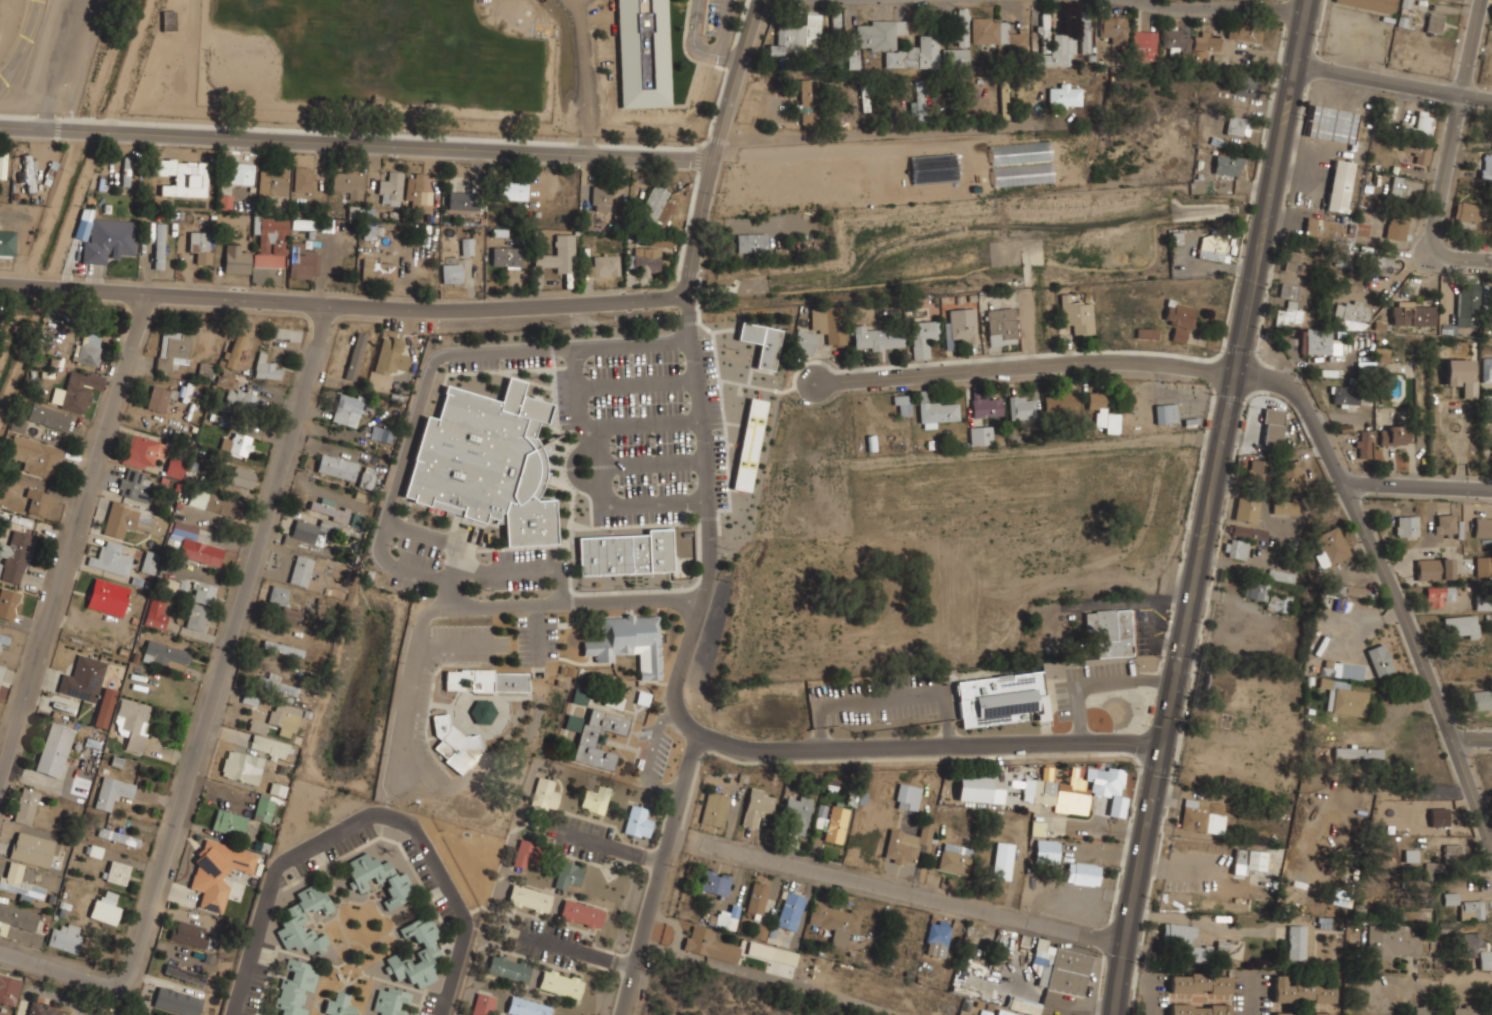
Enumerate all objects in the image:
building: (1370, 4)
road: (1223, 7)
building: (168, 20)
building: (836, 20)
building: (1434, 24)
building: (962, 27)
building: (1114, 29)
building: (1245, 30)
building: (1044, 33)
building: (879, 34)
building: (997, 34)
building: (1086, 36)
building: (796, 37)
road: (23, 40)
building: (1175, 42)
building: (1143, 45)
road: (1469, 46)
building: (1203, 47)
road: (702, 48)
building: (915, 51)
building: (643, 53)
building: (851, 53)
building: (1058, 53)
parking lot: (64, 54)
building: (955, 57)
building: (1218, 62)
road: (59, 63)
road: (1389, 80)
building: (1246, 86)
building: (1064, 96)
building: (864, 98)
building: (919, 101)
building: (809, 102)
building: (1423, 123)
building: (1331, 124)
building: (1237, 126)
road: (730, 145)
road: (362, 146)
building: (1417, 152)
building: (3, 164)
building: (1226, 165)
building: (1486, 165)
building: (28, 171)
building: (126, 171)
building: (241, 173)
building: (182, 176)
building: (303, 179)
building: (272, 182)
building: (348, 185)
building: (1339, 185)
building: (1406, 187)
building: (391, 189)
building: (418, 189)
building: (511, 190)
building: (461, 192)
building: (602, 198)
building: (225, 201)
building: (657, 206)
road: (1437, 206)
building: (1470, 217)
building: (310, 225)
building: (1399, 226)
building: (1331, 229)
building: (369, 232)
building: (109, 240)
building: (7, 241)
building: (272, 242)
building: (751, 243)
building: (158, 245)
building: (200, 247)
building: (467, 248)
building: (1210, 249)
building: (559, 254)
building: (506, 256)
building: (236, 259)
building: (1364, 260)
building: (1295, 261)
building: (303, 262)
building: (645, 262)
building: (604, 264)
building: (378, 269)
building: (453, 272)
building: (1290, 290)
building: (1485, 295)
road: (352, 306)
building: (1468, 306)
building: (1352, 312)
building: (1076, 315)
building: (1289, 315)
building: (1412, 315)
building: (1179, 316)
building: (827, 323)
building: (962, 325)
building: (1001, 327)
building: (286, 332)
building: (1178, 335)
building: (877, 338)
building: (922, 338)
building: (803, 342)
building: (761, 343)
building: (1319, 344)
building: (235, 348)
building: (87, 349)
building: (173, 349)
building: (392, 351)
building: (355, 356)
road: (1021, 364)
building: (267, 367)
building: (205, 370)
building: (1487, 370)
building: (1461, 375)
road: (429, 382)
building: (76, 391)
building: (1344, 396)
building: (237, 397)
building: (157, 398)
building: (1060, 402)
building: (902, 404)
building: (986, 406)
building: (1021, 408)
building: (347, 410)
building: (935, 412)
building: (1102, 412)
building: (1166, 413)
building: (48, 417)
building: (1271, 428)
building: (381, 434)
building: (980, 435)
building: (1393, 435)
building: (238, 444)
building: (1364, 444)
building: (749, 445)
building: (143, 450)
building: (37, 457)
road: (706, 460)
building: (487, 462)
building: (337, 467)
building: (175, 468)
building: (1258, 469)
building: (1290, 473)
building: (242, 476)
building: (366, 481)
building: (134, 485)
road: (1417, 485)
building: (37, 501)
building: (214, 502)
road: (1200, 507)
road: (1215, 507)
building: (1285, 507)
building: (1246, 509)
building: (330, 510)
building: (132, 521)
building: (1444, 524)
building: (1406, 527)
building: (1483, 527)
building: (309, 532)
building: (1248, 532)
road: (73, 537)
building: (197, 544)
building: (1331, 546)
building: (1235, 549)
building: (627, 554)
building: (15, 556)
building: (110, 558)
building: (149, 561)
building: (1483, 565)
building: (0, 566)
building: (1434, 568)
building: (301, 570)
road: (516, 570)
building: (1280, 575)
road: (1386, 583)
building: (1347, 591)
building: (203, 592)
building: (1438, 595)
building: (107, 596)
building: (1267, 596)
building: (283, 601)
building: (1483, 601)
building: (9, 603)
building: (156, 612)
building: (197, 617)
building: (1462, 626)
building: (1110, 632)
building: (3, 640)
building: (630, 642)
road: (228, 645)
building: (283, 648)
building: (165, 654)
building: (1379, 659)
building: (1489, 666)
building: (1, 670)
building: (83, 679)
building: (486, 680)
building: (277, 685)
building: (1218, 685)
building: (579, 696)
building: (643, 698)
building: (249, 699)
building: (1002, 699)
building: (1345, 699)
building: (1482, 699)
building: (104, 707)
building: (483, 712)
building: (285, 718)
building: (132, 723)
building: (258, 725)
road: (1472, 734)
building: (595, 736)
road: (730, 741)
building: (454, 746)
building: (54, 749)
building: (1359, 752)
building: (251, 759)
building: (277, 788)
building: (978, 788)
building: (1067, 789)
building: (112, 792)
building: (544, 794)
building: (908, 797)
building: (595, 799)
building: (25, 805)
building: (263, 808)
building: (714, 809)
building: (756, 810)
building: (796, 815)
building: (1201, 816)
building: (1439, 816)
building: (637, 821)
building: (232, 824)
building: (835, 825)
building: (119, 836)
building: (905, 846)
road: (614, 847)
building: (32, 849)
building: (1046, 850)
building: (95, 851)
building: (525, 853)
building: (1453, 853)
building: (1410, 856)
building: (954, 858)
building: (1249, 859)
building: (1002, 860)
building: (116, 872)
building: (218, 872)
road: (658, 873)
building: (1082, 873)
building: (568, 875)
building: (380, 878)
building: (715, 882)
building: (20, 883)
road: (271, 888)
road: (923, 896)
road: (453, 898)
building: (529, 898)
building: (757, 898)
building: (1448, 898)
building: (1235, 901)
building: (105, 908)
building: (1472, 909)
building: (790, 910)
building: (581, 914)
building: (16, 918)
building: (727, 918)
building: (834, 920)
building: (304, 921)
road: (1203, 923)
building: (189, 933)
building: (66, 937)
building: (937, 938)
building: (1185, 941)
building: (1394, 941)
building: (1296, 943)
building: (708, 944)
building: (1230, 948)
building: (1476, 949)
road: (582, 951)
building: (417, 953)
building: (785, 956)
building: (1060, 967)
building: (509, 968)
road: (58, 969)
building: (185, 974)
building: (561, 983)
building: (1199, 983)
building: (296, 988)
building: (9, 989)
building: (1301, 992)
road: (1253, 993)
road: (1151, 995)
building: (177, 1001)
building: (391, 1001)
building: (483, 1004)
building: (339, 1005)
building: (1024, 1005)
building: (527, 1007)
building: (43, 1008)
building: (1198, 1009)
building: (1424, 1010)
building: (1467, 1011)
building: (1491, 1011)
building: (1004, 1012)
building: (985, 1013)
building: (1302, 1013)
building: (138, 1014)

